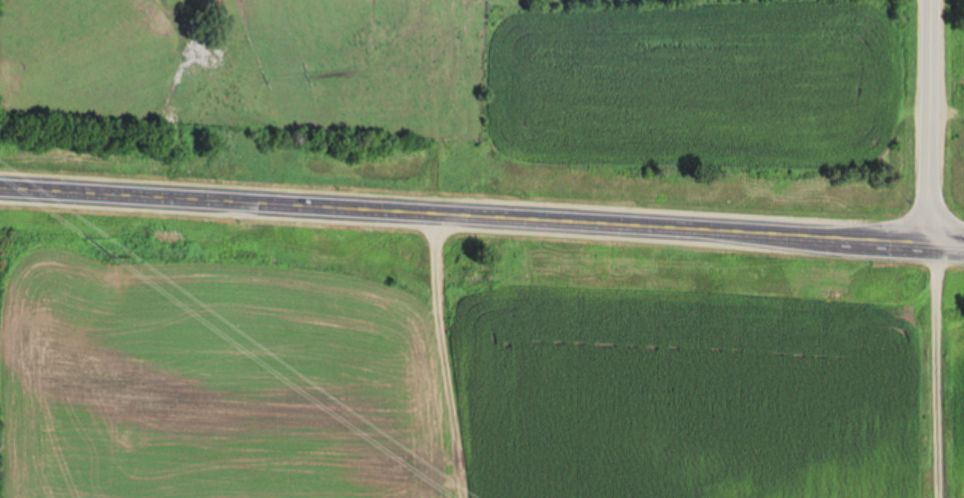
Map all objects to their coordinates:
road: (930, 122)
road: (482, 215)
power tower: (112, 255)
road: (937, 371)

